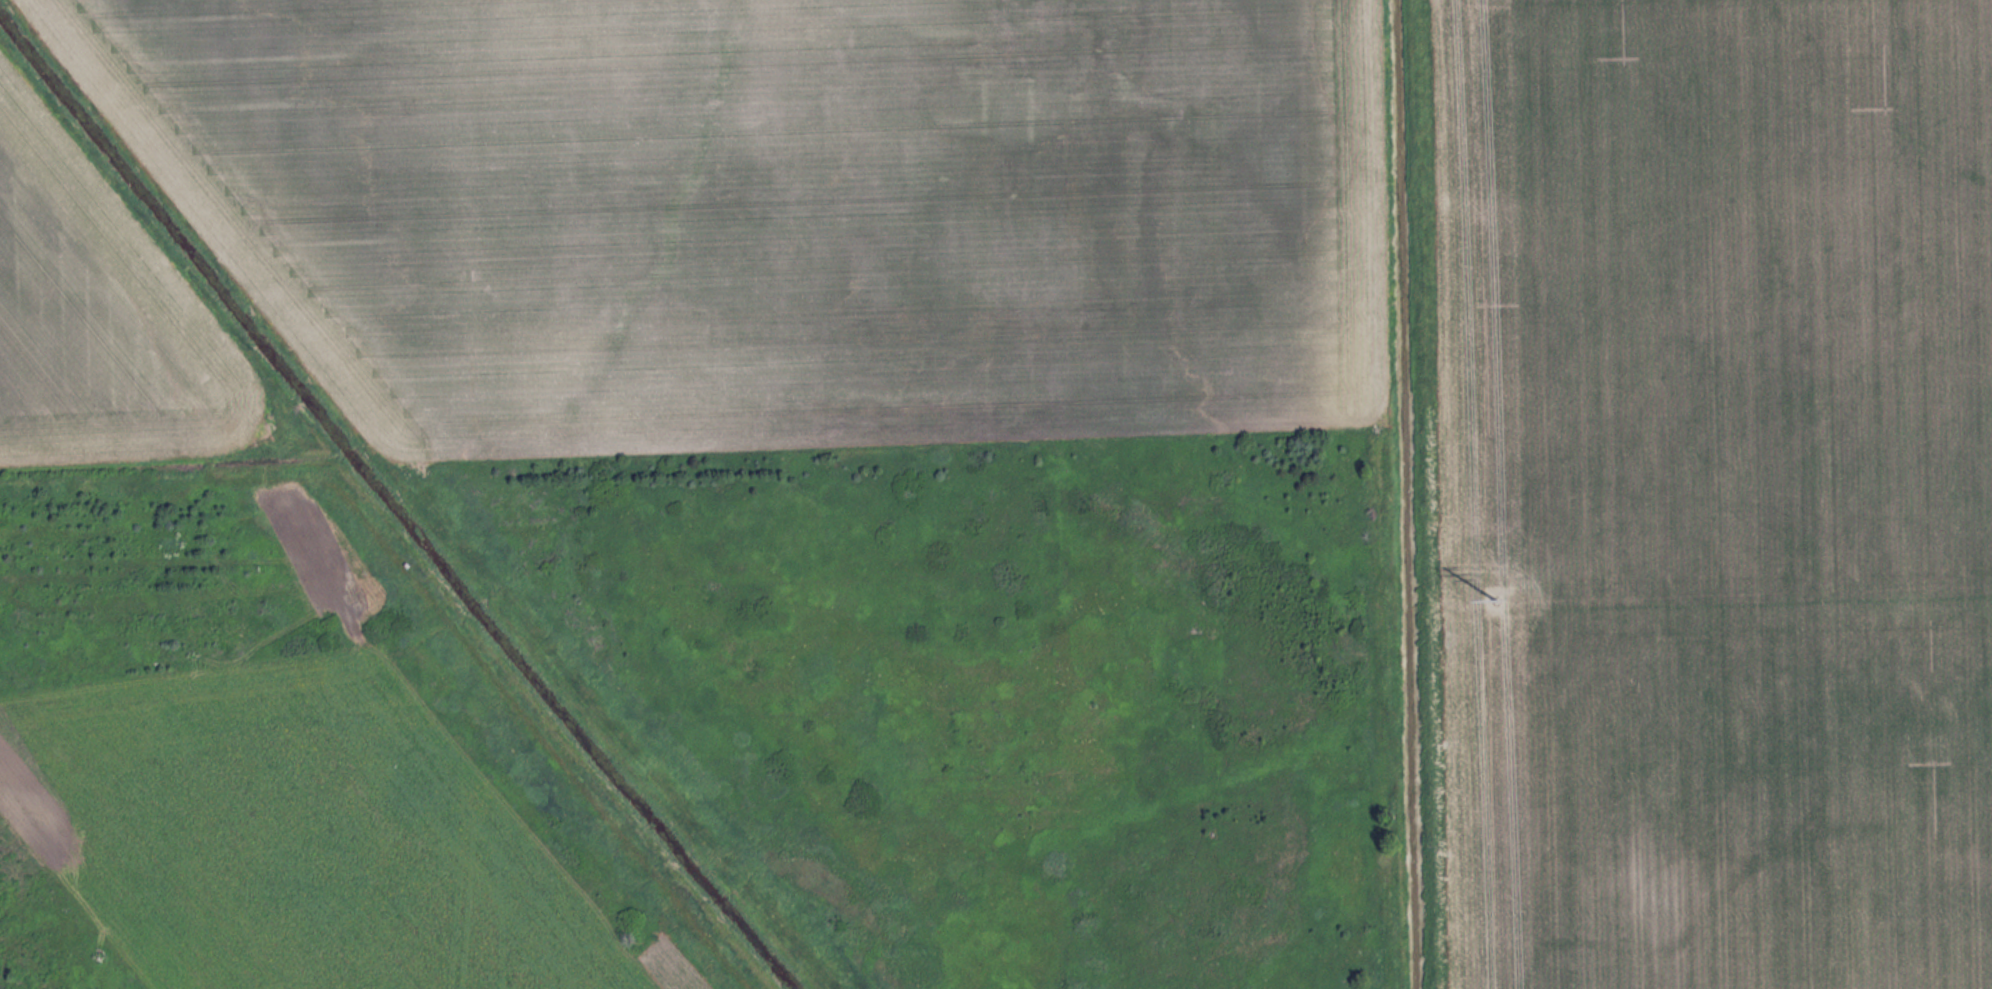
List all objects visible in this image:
power tower: (1493, 594)

